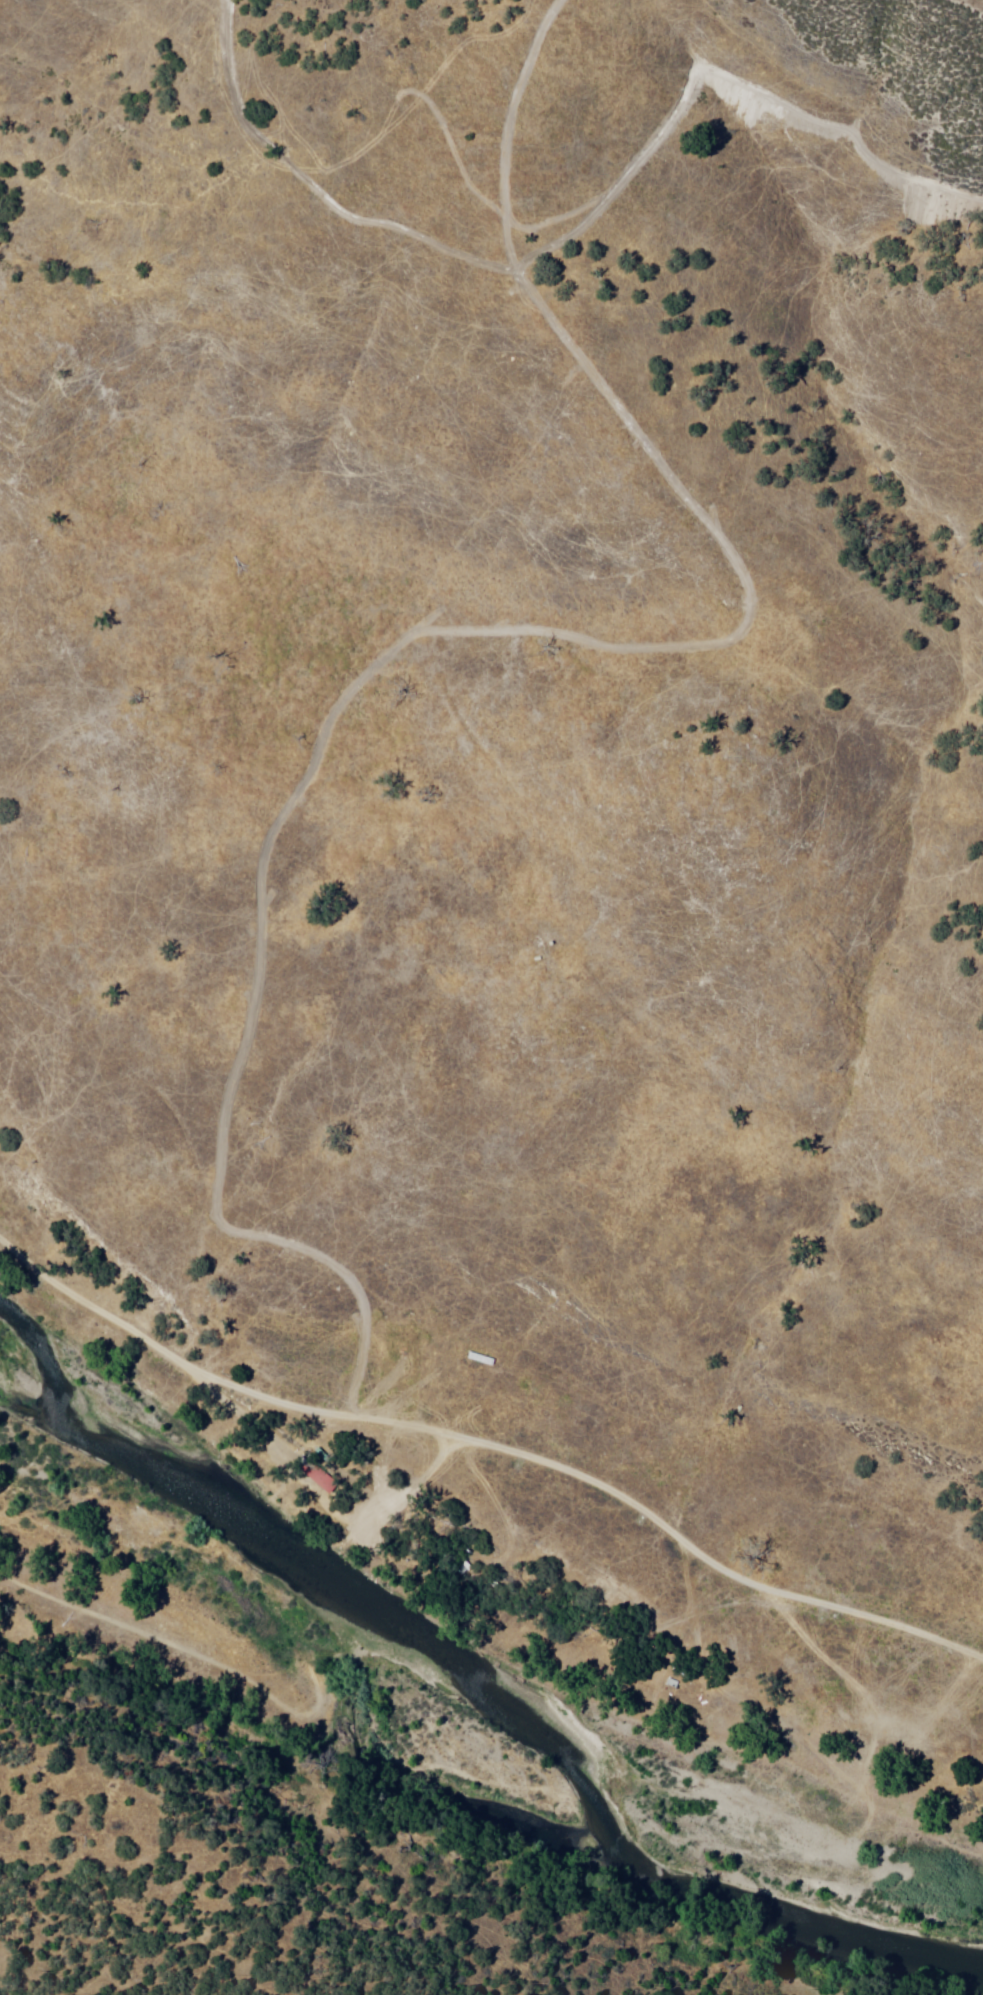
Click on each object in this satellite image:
road: (463, 628)
building: (478, 1358)
river: (45, 1422)
road: (493, 1448)
building: (318, 1485)
river: (554, 1730)

